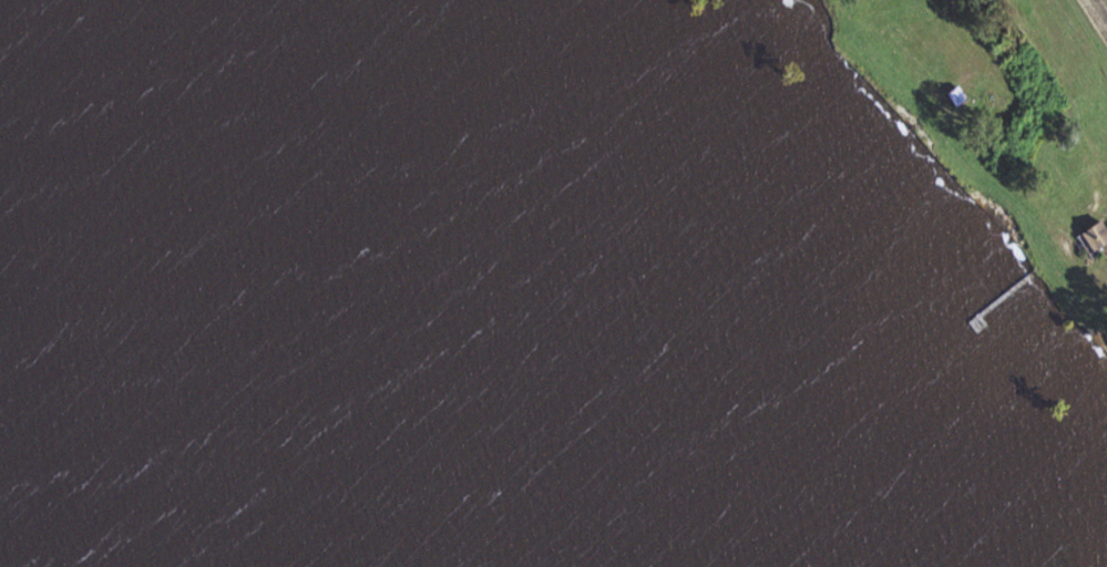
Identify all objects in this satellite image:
building: (961, 96)
building: (1098, 237)

